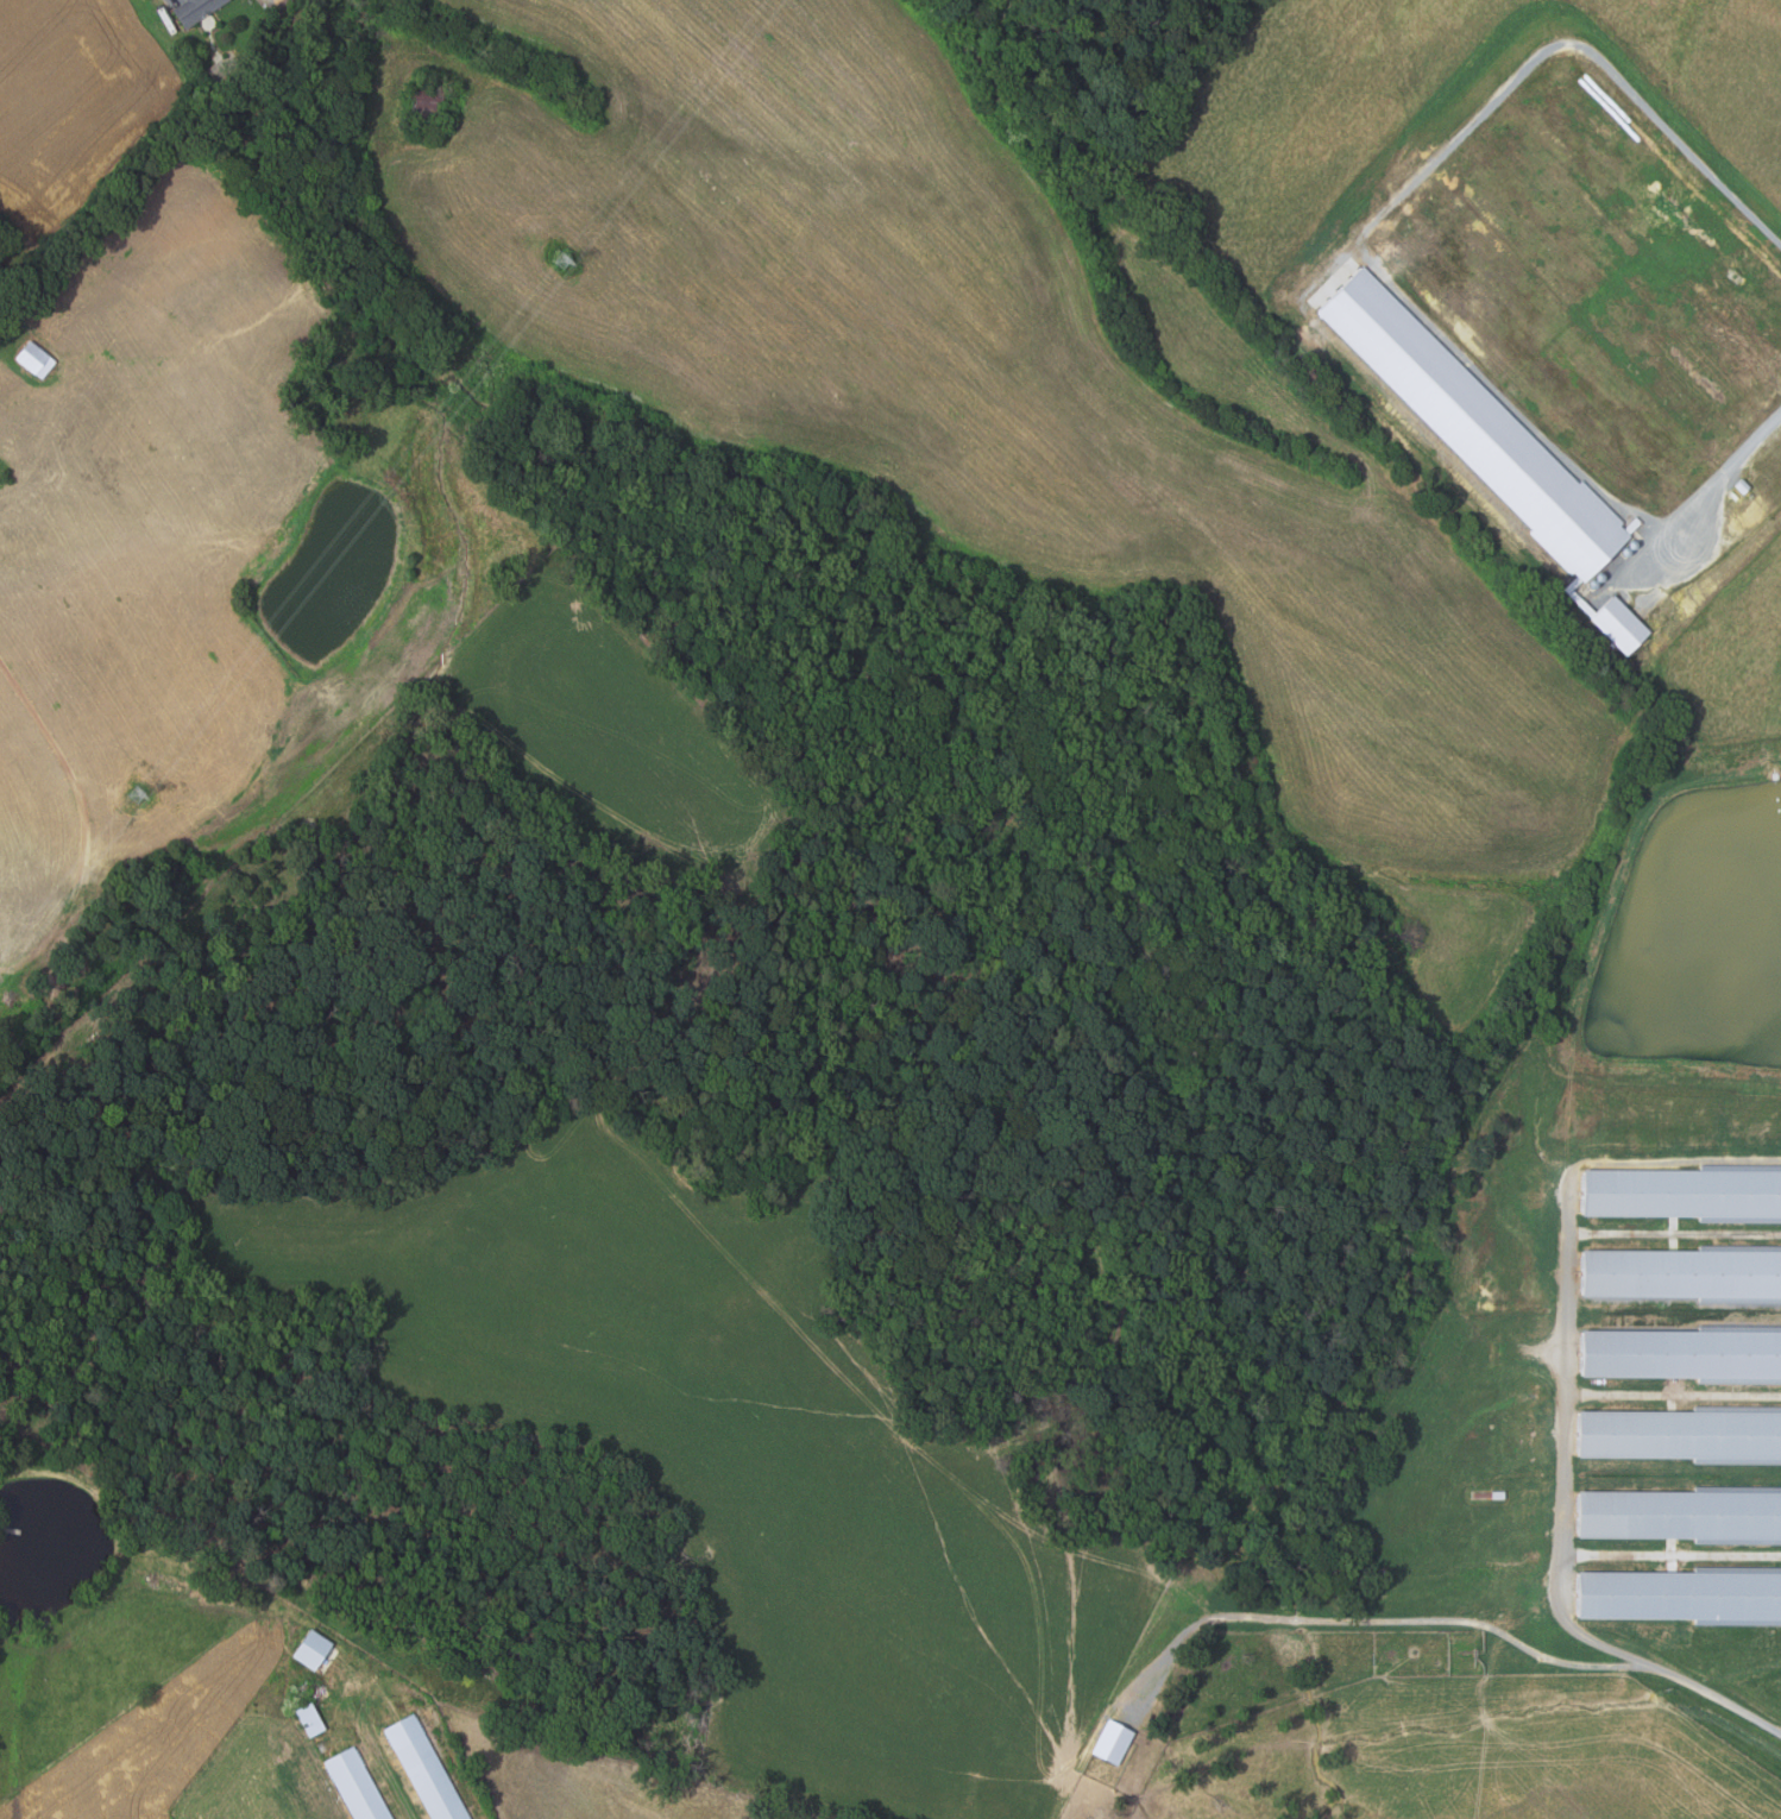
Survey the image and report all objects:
building: (196, 11)
building: (428, 102)
road: (1366, 237)
power tower: (564, 264)
building: (34, 359)
building: (1478, 426)
building: (1743, 486)
building: (1622, 625)
power tower: (136, 795)
building: (1682, 1194)
building: (1682, 1273)
building: (1681, 1354)
building: (1679, 1434)
building: (1684, 1515)
building: (1685, 1595)
road: (1452, 1619)
building: (310, 1649)
building: (310, 1720)
crop: (156, 1737)
building: (1113, 1742)
building: (426, 1769)
building: (357, 1786)

